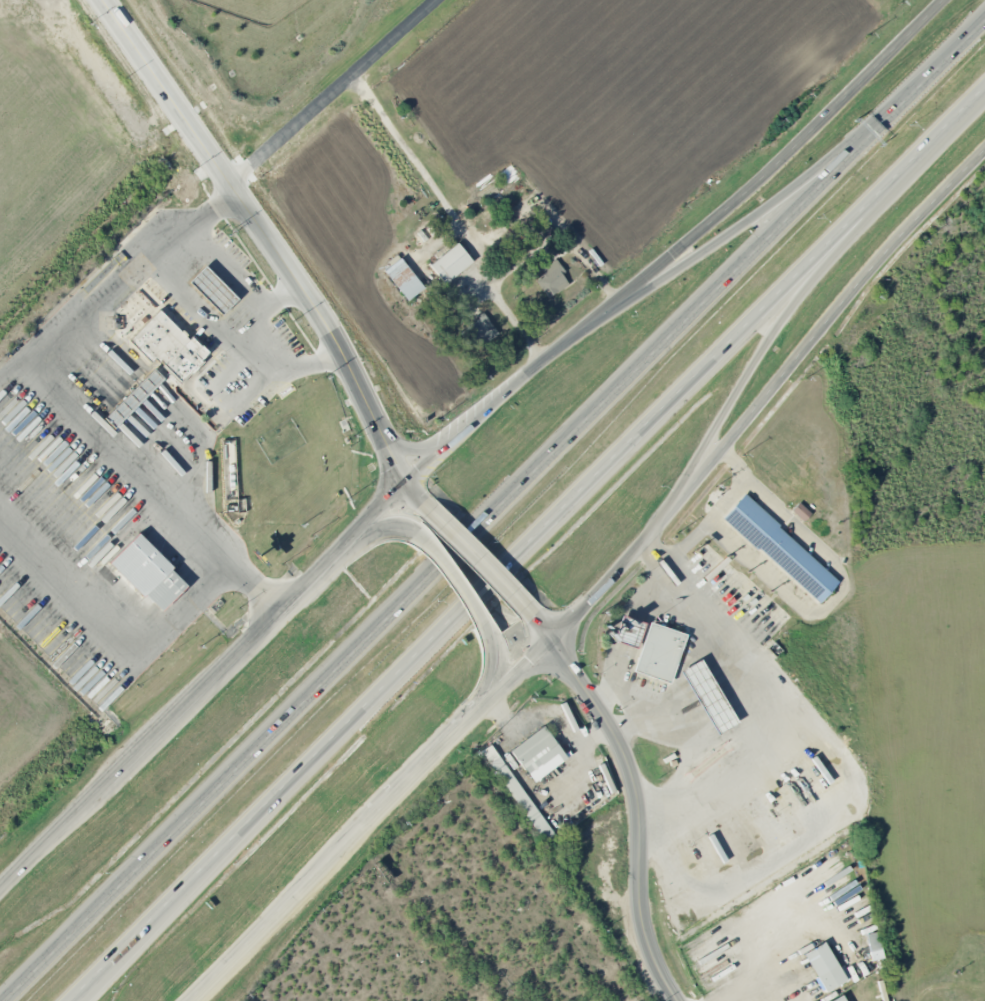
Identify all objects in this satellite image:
road: (960, 43)
road: (333, 92)
road: (970, 100)
road: (755, 182)
road: (453, 214)
road: (752, 218)
road: (114, 221)
road: (265, 234)
road: (744, 260)
building: (450, 262)
road: (224, 264)
building: (403, 278)
building: (550, 279)
building: (211, 290)
road: (776, 294)
road: (187, 301)
road: (791, 306)
building: (477, 331)
building: (166, 346)
road: (252, 348)
road: (14, 375)
road: (59, 393)
road: (767, 395)
building: (131, 398)
road: (482, 415)
road: (412, 450)
road: (414, 491)
road: (718, 510)
road: (371, 518)
road: (371, 534)
building: (780, 548)
road: (479, 558)
road: (442, 562)
building: (148, 572)
road: (453, 583)
road: (482, 587)
road: (649, 594)
road: (833, 601)
road: (275, 612)
road: (112, 630)
building: (629, 630)
gas station: (629, 630)
road: (632, 634)
building: (658, 652)
road: (621, 667)
road: (485, 681)
building: (708, 696)
gas station: (708, 696)
road: (627, 700)
road: (9, 705)
road: (758, 711)
road: (58, 723)
road: (163, 724)
building: (537, 753)
road: (638, 798)
road: (367, 818)
road: (63, 824)
road: (167, 836)
road: (220, 851)
road: (9, 880)
building: (873, 945)
road: (750, 953)
road: (124, 955)
building: (823, 966)
building: (838, 998)

